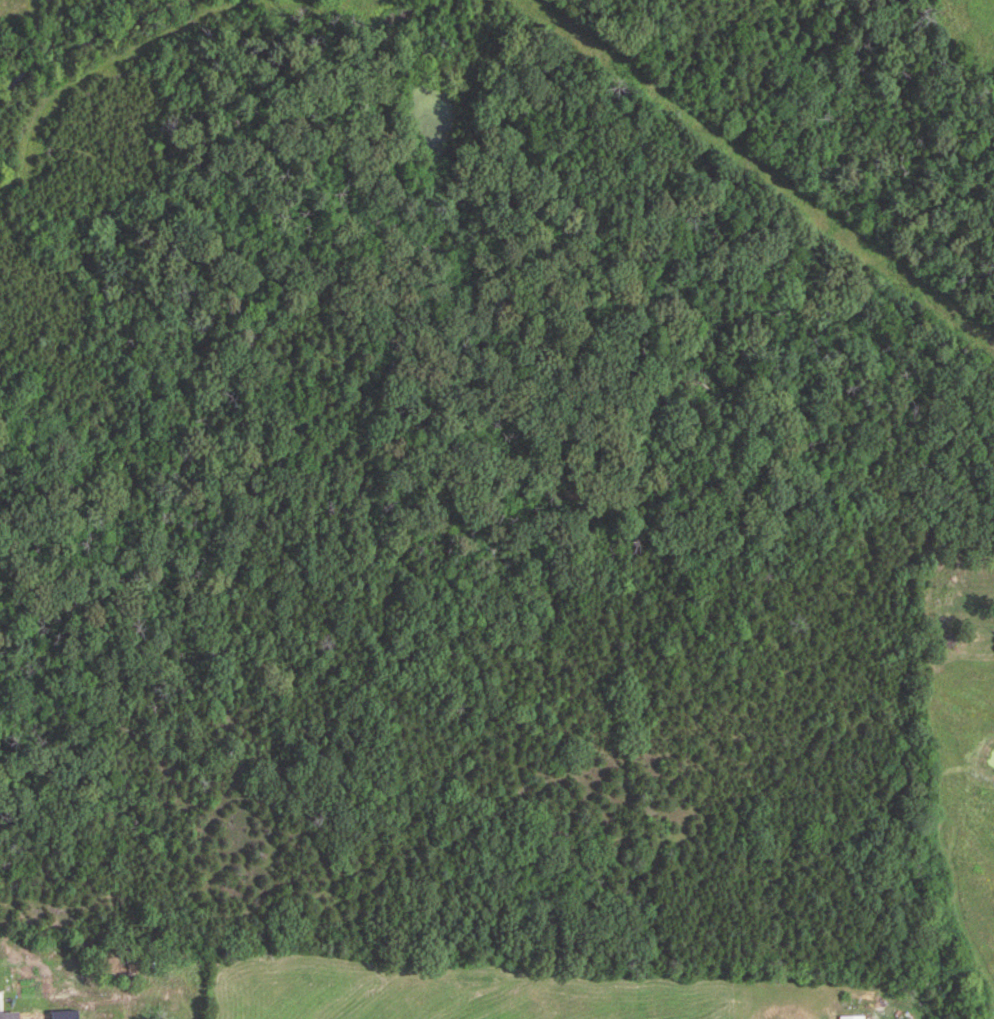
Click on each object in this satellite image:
road: (90, 36)
road: (826, 820)
building: (9, 1016)
building: (852, 1017)

